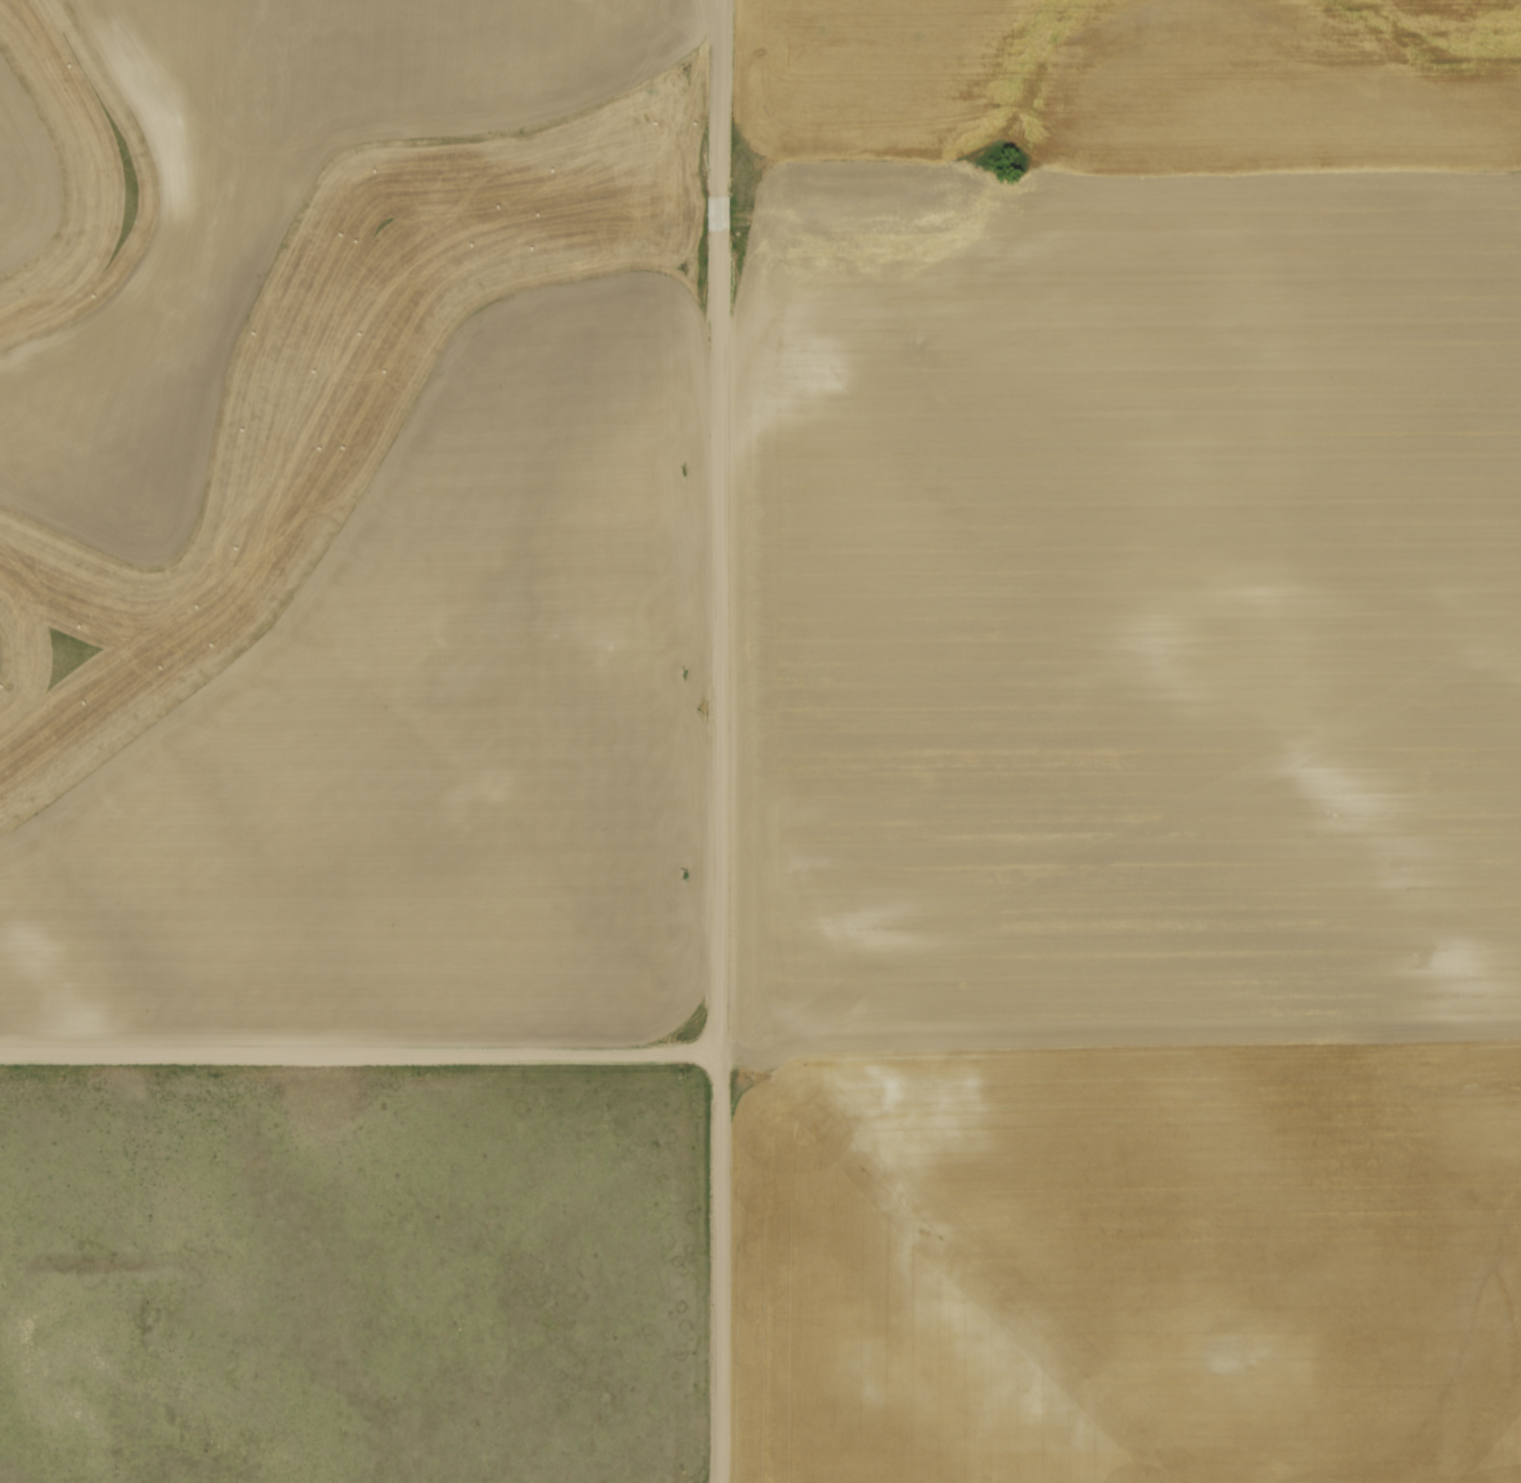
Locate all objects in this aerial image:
crop: (24, 178)
crop: (273, 201)
crop: (1, 660)
crop: (428, 732)
road: (719, 741)
crop: (1127, 743)
road: (359, 1052)

